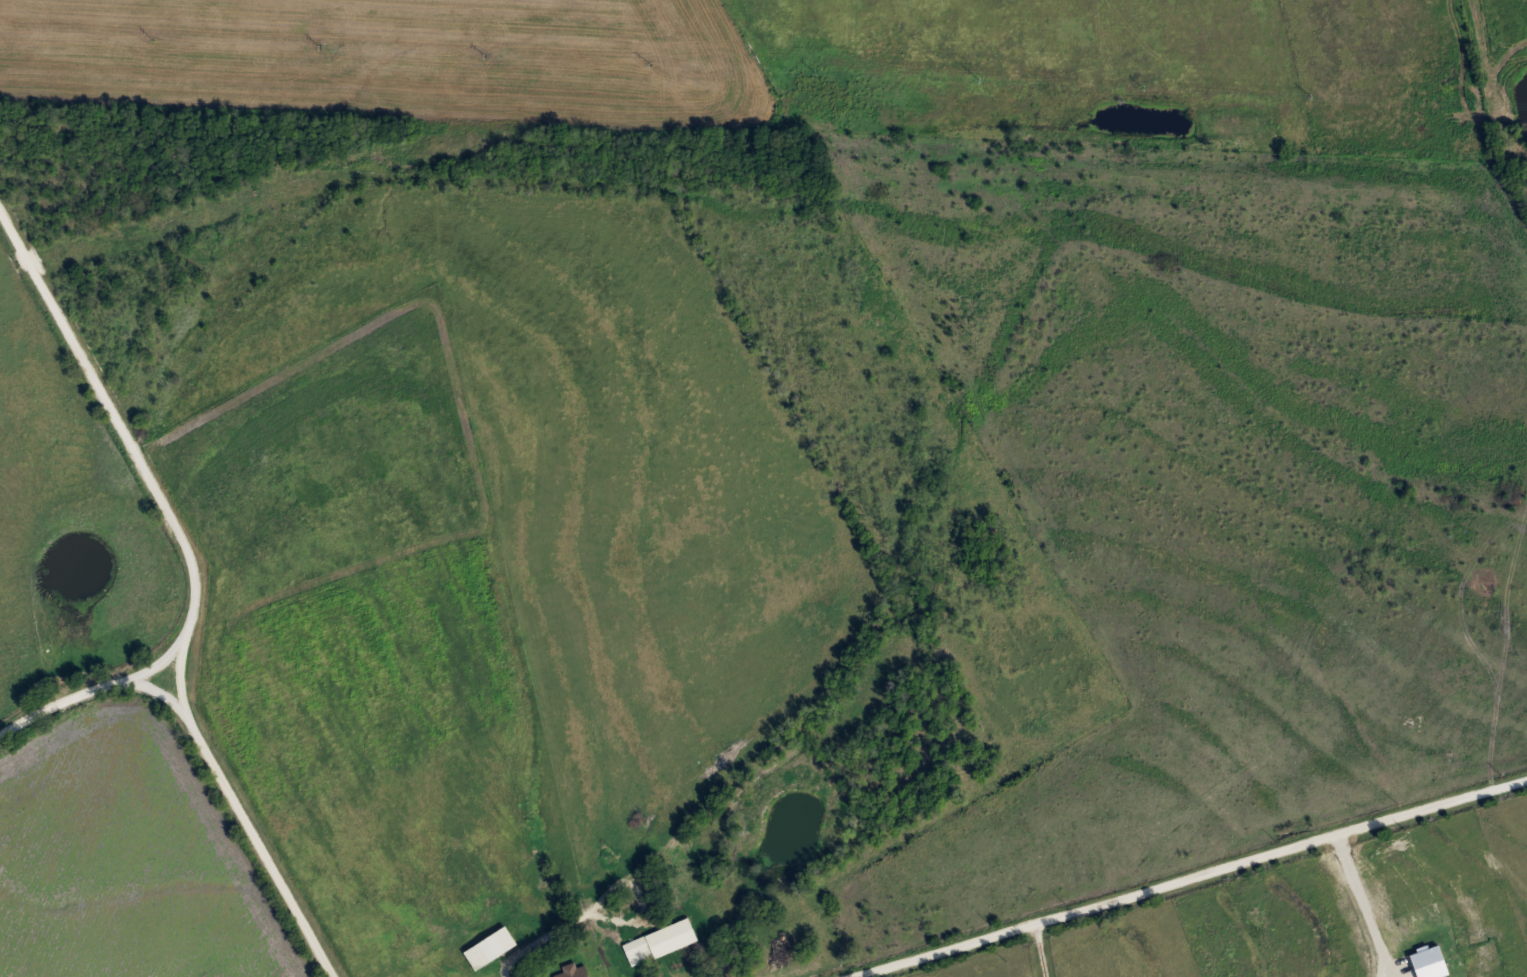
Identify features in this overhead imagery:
railway: (763, 156)
road: (135, 449)
road: (151, 664)
road: (91, 686)
road: (259, 843)
road: (1189, 874)
building: (660, 940)
road: (1041, 948)
building: (492, 949)
building: (572, 970)

